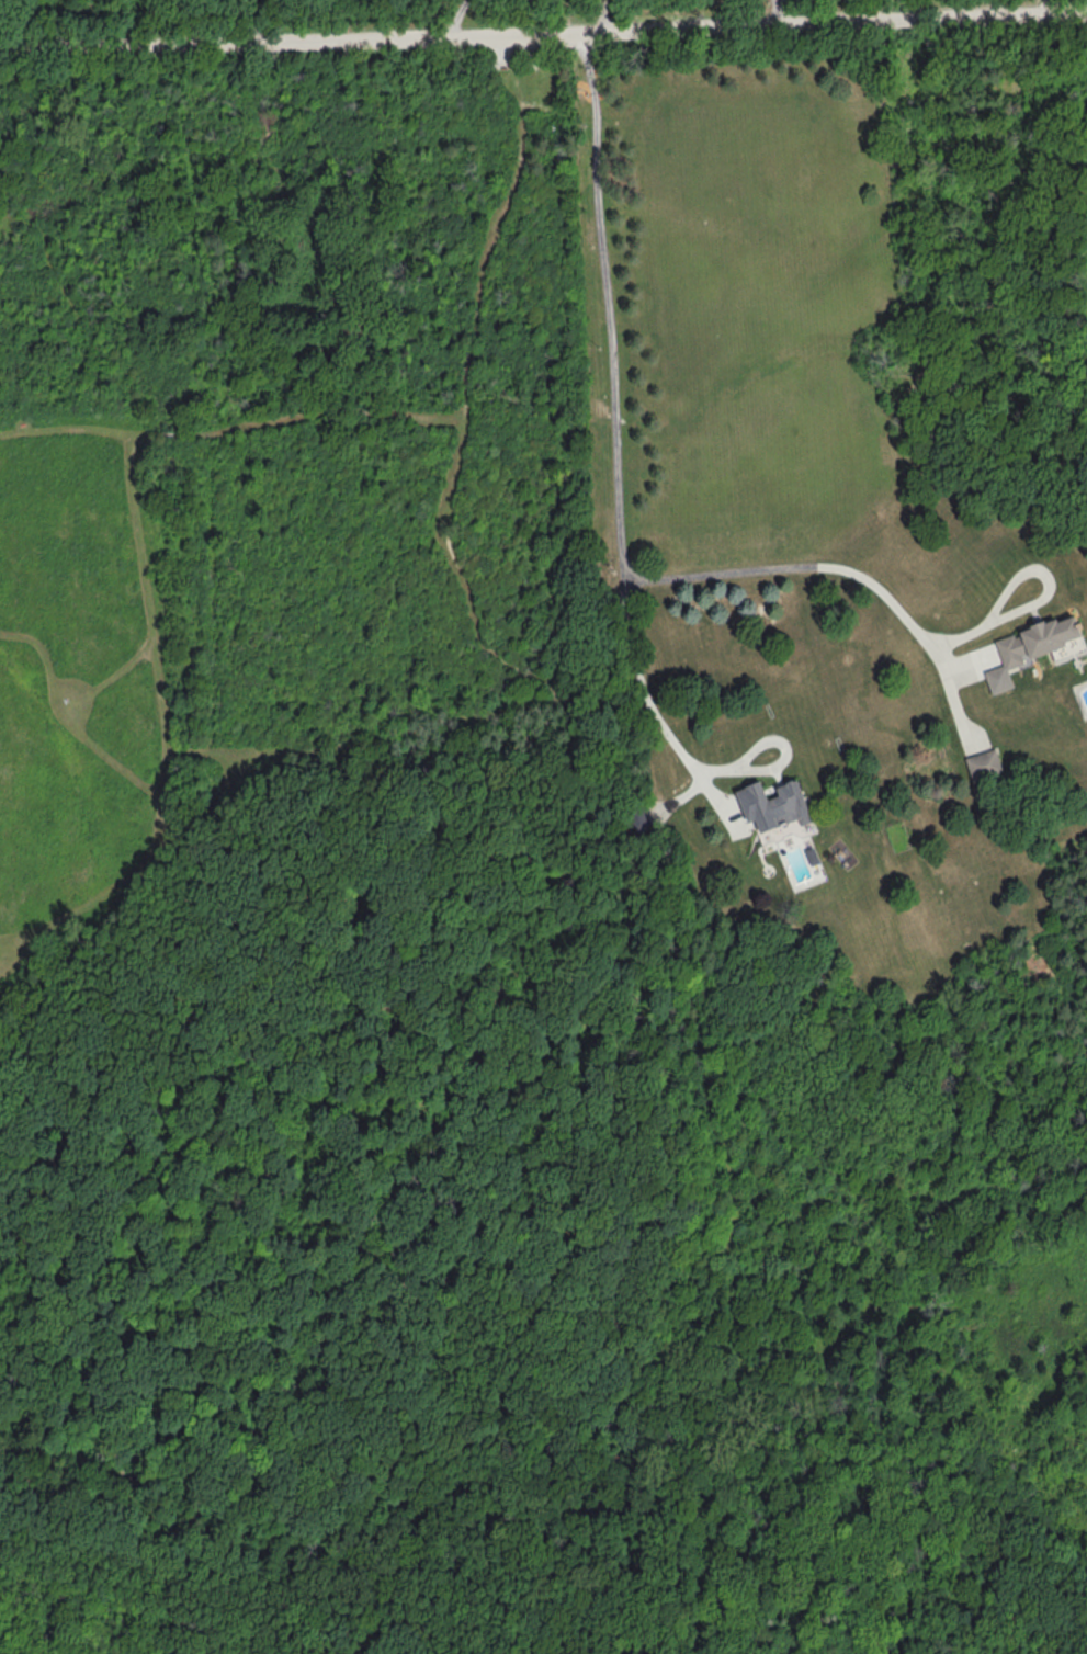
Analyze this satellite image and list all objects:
road: (1046, 7)
road: (779, 13)
road: (455, 16)
road: (603, 16)
road: (543, 34)
parking lot: (517, 49)
road: (510, 50)
road: (491, 238)
road: (607, 301)
road: (231, 430)
park: (295, 552)
road: (721, 574)
road: (625, 582)
road: (146, 596)
road: (1044, 600)
road: (921, 635)
building: (1030, 647)
road: (973, 666)
road: (110, 679)
road: (645, 696)
road: (67, 720)
road: (369, 741)
road: (780, 763)
building: (985, 766)
road: (700, 784)
road: (215, 802)
building: (773, 804)
building: (638, 819)
road: (320, 1043)
road: (887, 1273)
road: (454, 1481)

